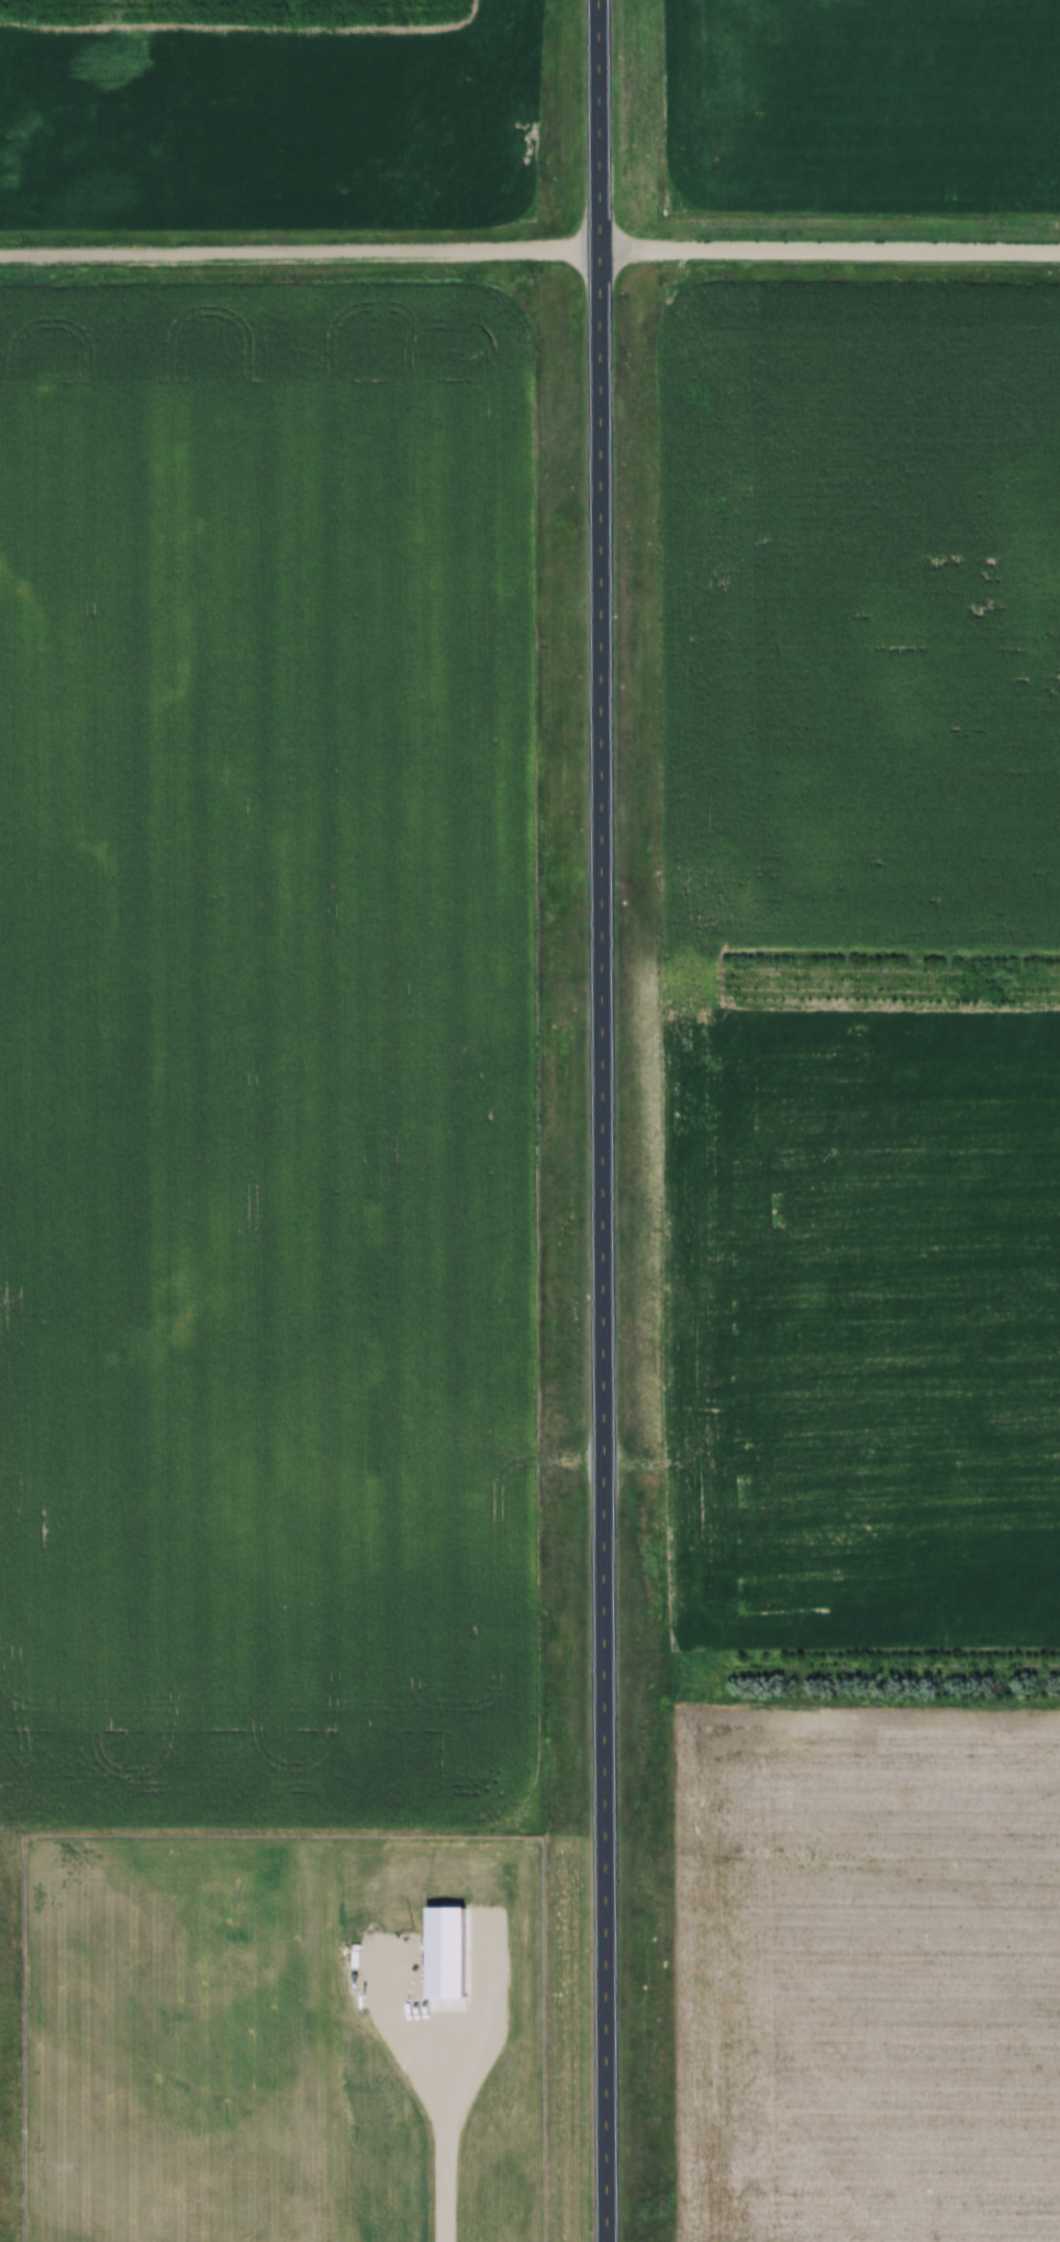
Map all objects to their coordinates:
road: (529, 240)
crop: (267, 1056)
road: (613, 1120)
building: (448, 1950)
building: (295, 2010)
road: (440, 2158)
building: (246, 2180)

